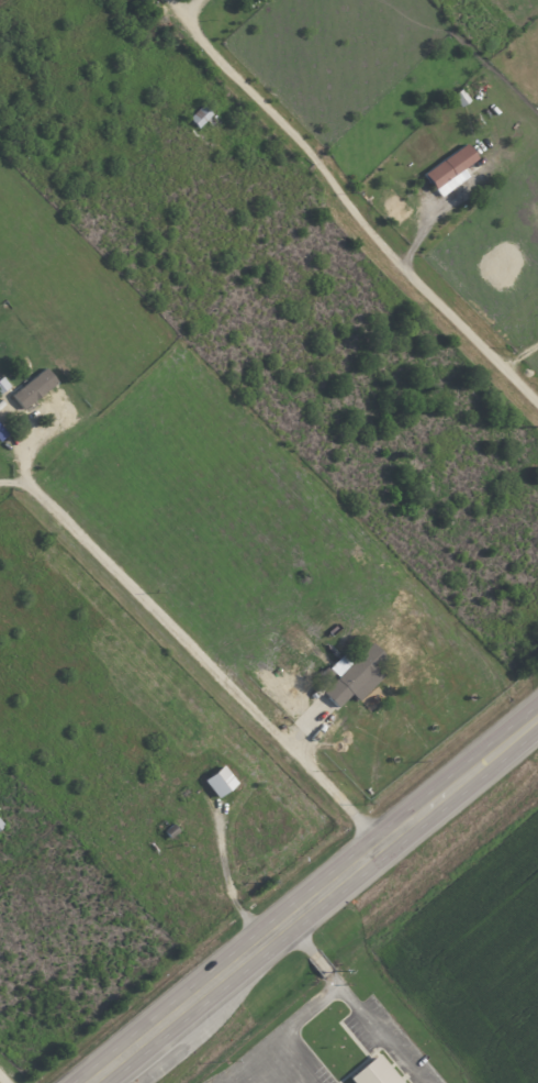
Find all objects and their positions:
building: (460, 97)
building: (200, 115)
building: (450, 170)
road: (357, 213)
road: (519, 355)
building: (3, 384)
building: (34, 387)
building: (2, 432)
road: (192, 654)
building: (355, 674)
building: (220, 781)
building: (1, 824)
road: (224, 878)
road: (309, 895)
road: (298, 931)
road: (321, 961)
road: (336, 981)
road: (284, 1029)
road: (381, 1036)
road: (249, 1059)
building: (374, 1072)

